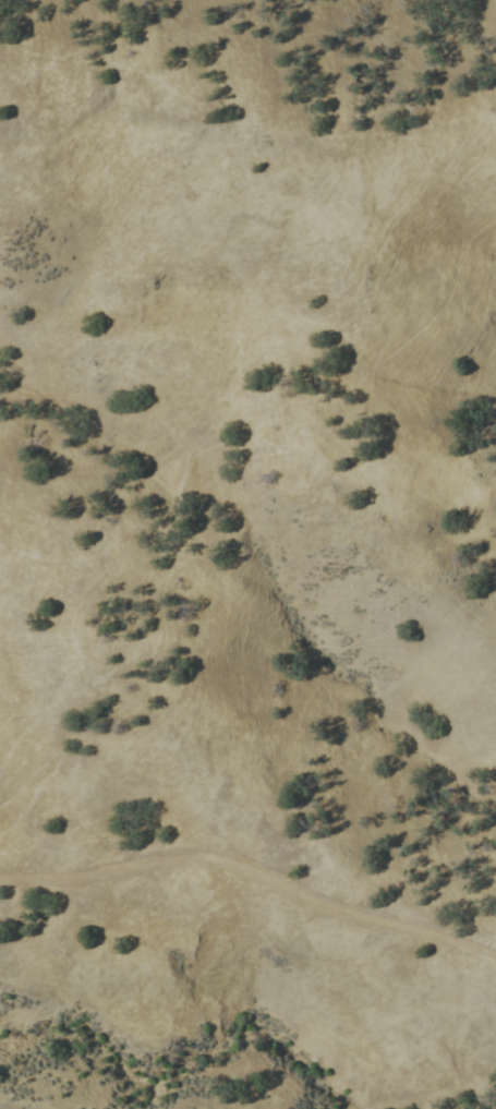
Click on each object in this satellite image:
road: (253, 868)

